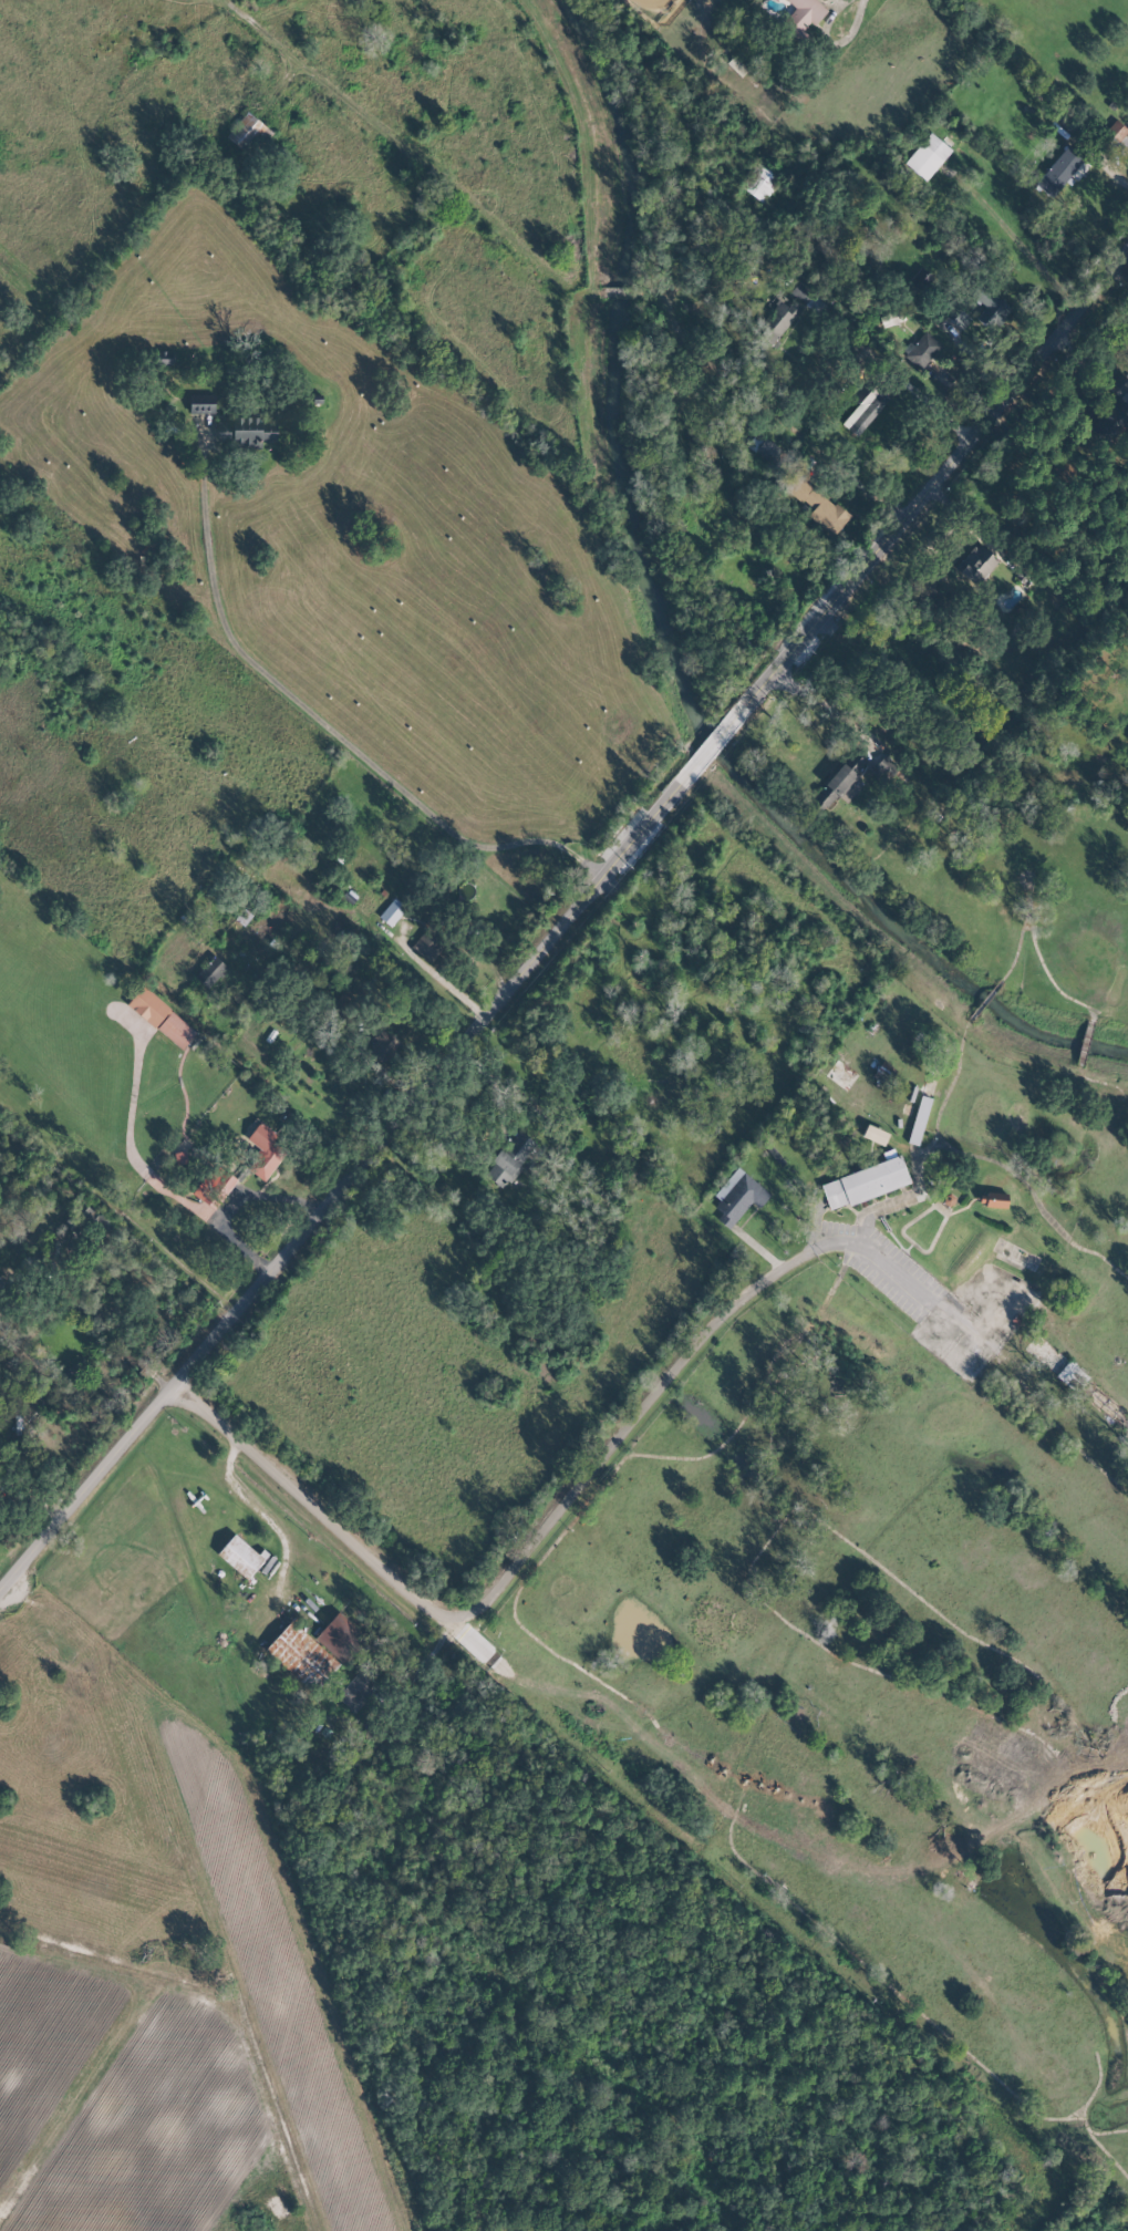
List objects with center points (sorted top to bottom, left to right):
road: (848, 9)
building: (803, 16)
road: (269, 38)
building: (244, 131)
building: (1122, 145)
building: (927, 156)
road: (1116, 169)
building: (1058, 171)
building: (762, 180)
building: (991, 309)
building: (959, 319)
building: (775, 320)
building: (921, 350)
building: (1119, 390)
road: (920, 396)
building: (200, 404)
building: (863, 412)
building: (245, 432)
building: (768, 450)
building: (817, 505)
building: (975, 564)
road: (821, 707)
road: (335, 732)
building: (838, 782)
building: (391, 911)
road: (559, 937)
building: (209, 972)
building: (161, 1018)
building: (381, 1045)
building: (918, 1119)
building: (875, 1134)
building: (261, 1150)
building: (508, 1158)
building: (863, 1182)
building: (210, 1191)
building: (737, 1196)
building: (992, 1199)
road: (875, 1209)
road: (871, 1259)
road: (772, 1279)
building: (1072, 1376)
road: (639, 1419)
road: (339, 1530)
building: (240, 1556)
building: (72, 1628)
building: (54, 1648)
building: (314, 1650)
building: (355, 1691)

